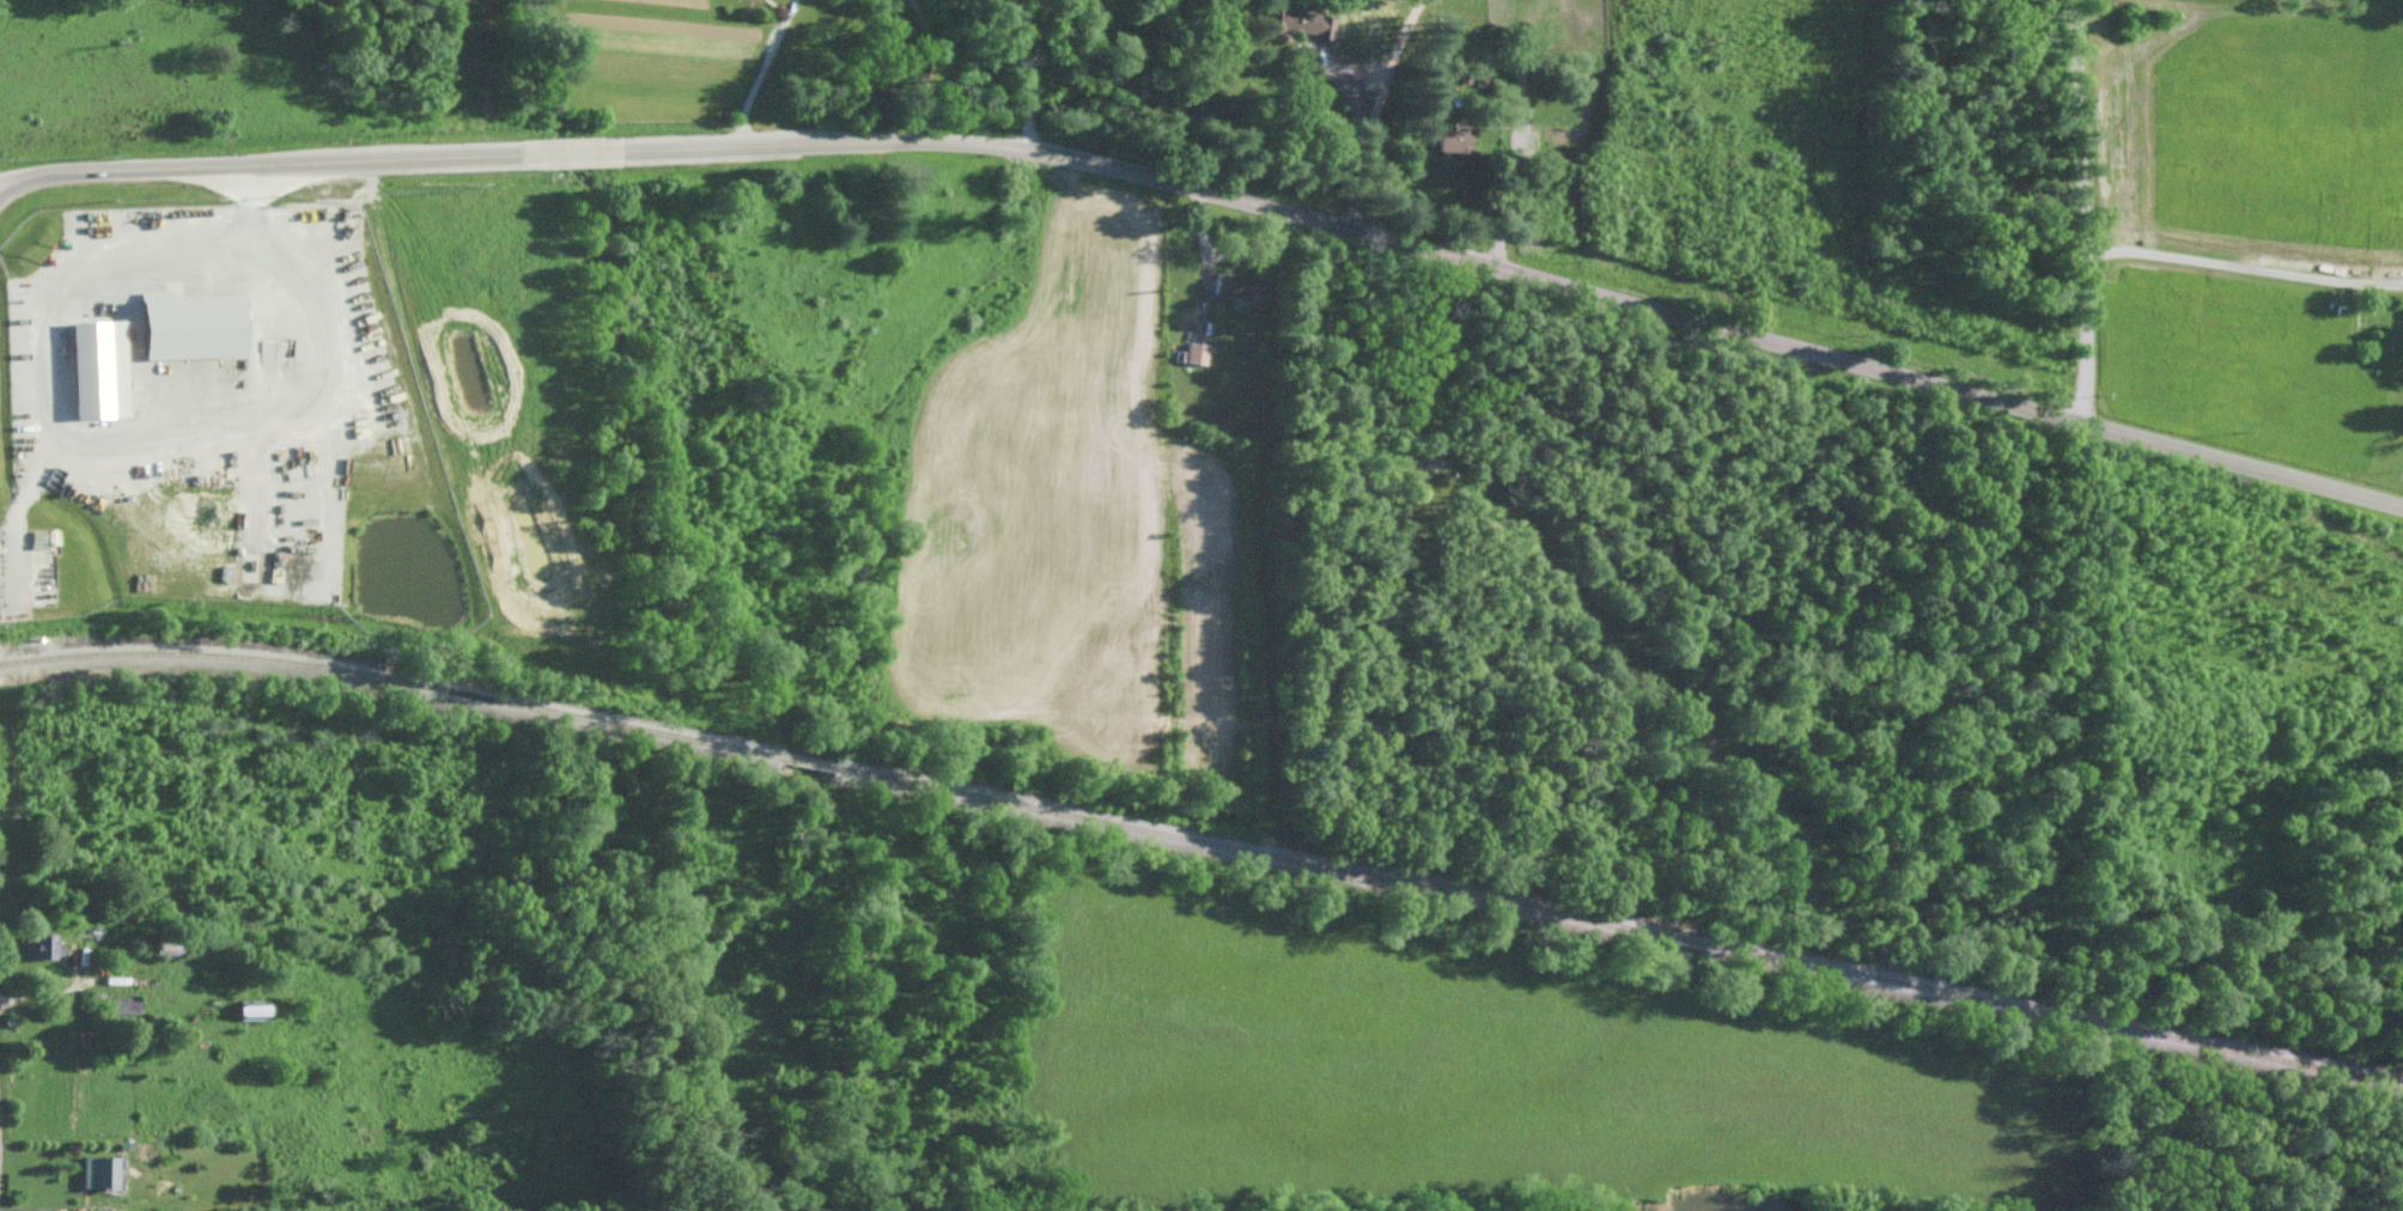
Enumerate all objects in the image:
building: (1295, 20)
road: (755, 68)
road: (1023, 73)
road: (1377, 108)
building: (1450, 140)
road: (573, 148)
road: (258, 160)
road: (2088, 207)
road: (1521, 266)
road: (2246, 267)
building: (1234, 285)
building: (182, 327)
building: (1192, 352)
building: (92, 367)
railway: (1204, 838)
building: (34, 945)
building: (121, 1004)
building: (95, 1172)
road: (1728, 1175)

